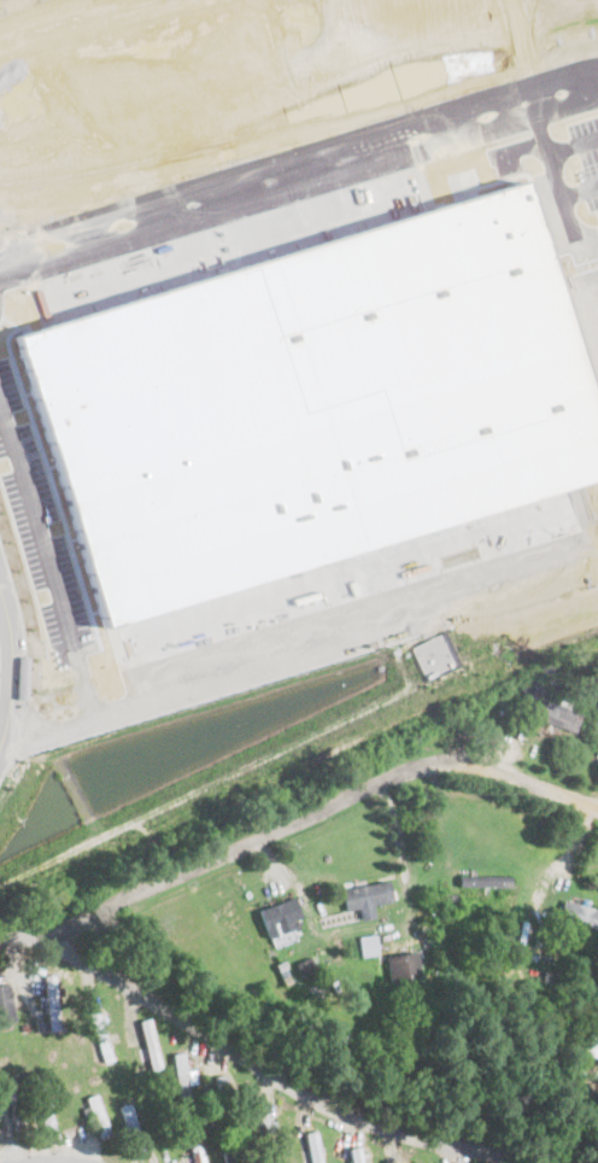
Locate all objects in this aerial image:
road: (575, 136)
road: (294, 166)
road: (568, 197)
road: (5, 290)
road: (52, 542)
road: (303, 648)
road: (11, 667)
building: (553, 713)
road: (288, 806)
road: (559, 872)
building: (483, 879)
building: (364, 898)
building: (578, 914)
building: (280, 916)
building: (365, 946)
building: (305, 965)
building: (400, 966)
building: (550, 983)
building: (6, 1001)
building: (49, 1001)
building: (594, 1022)
building: (100, 1035)
building: (147, 1045)
building: (178, 1075)
road: (276, 1075)
building: (13, 1110)
building: (42, 1116)
building: (96, 1117)
building: (129, 1129)
building: (262, 1133)
building: (312, 1146)
building: (193, 1147)
building: (352, 1155)
building: (227, 1157)

